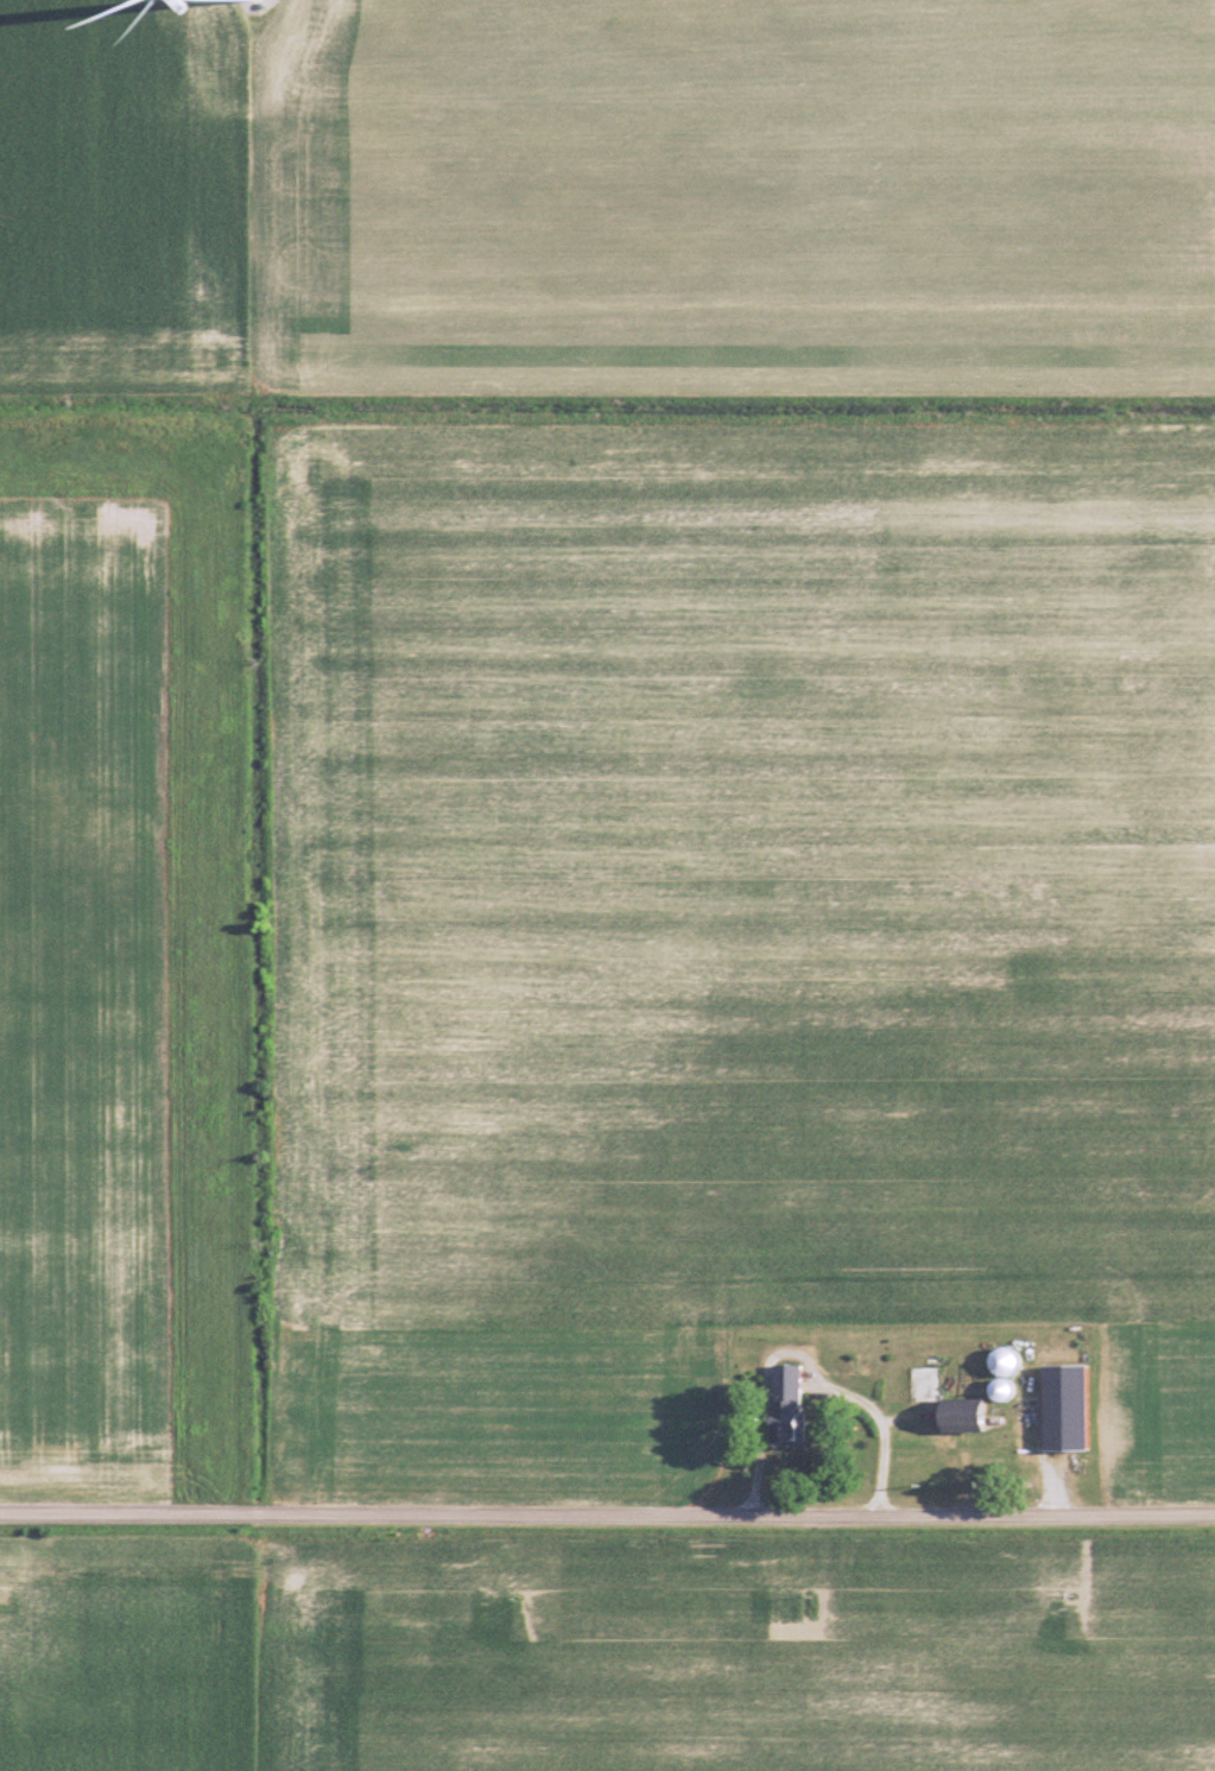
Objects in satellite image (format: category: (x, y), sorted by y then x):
wind turbine: (234, 1)
building: (999, 1362)
building: (926, 1397)
building: (780, 1405)
building: (1061, 1408)
road: (607, 1517)

